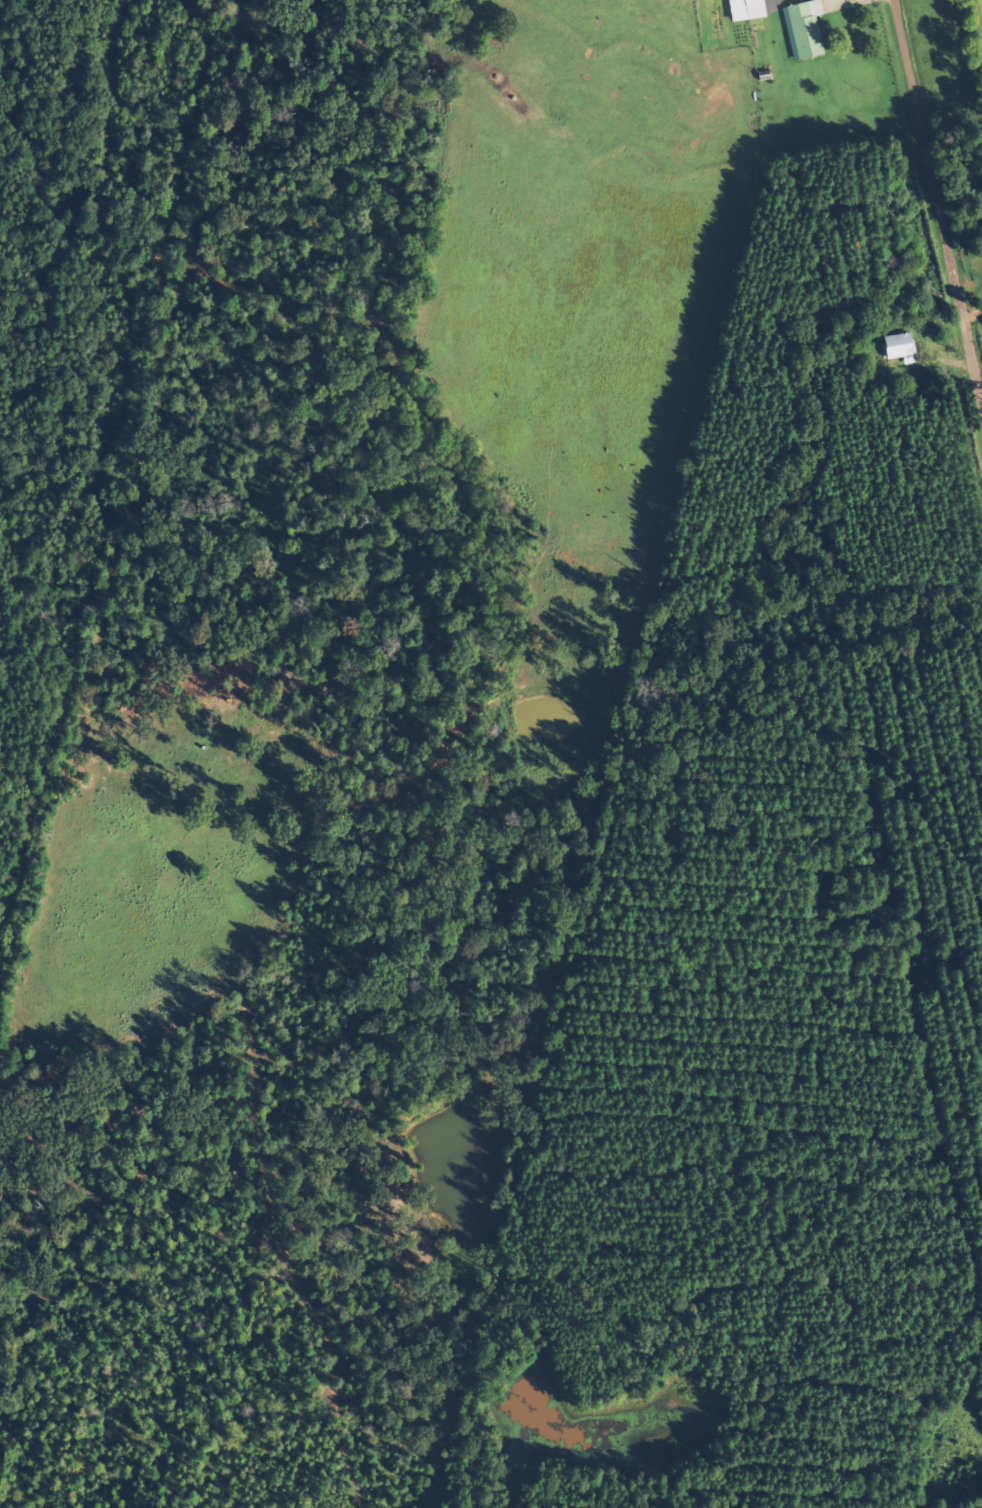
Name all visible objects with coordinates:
building: (749, 9)
building: (807, 29)
road: (932, 232)
building: (905, 347)

